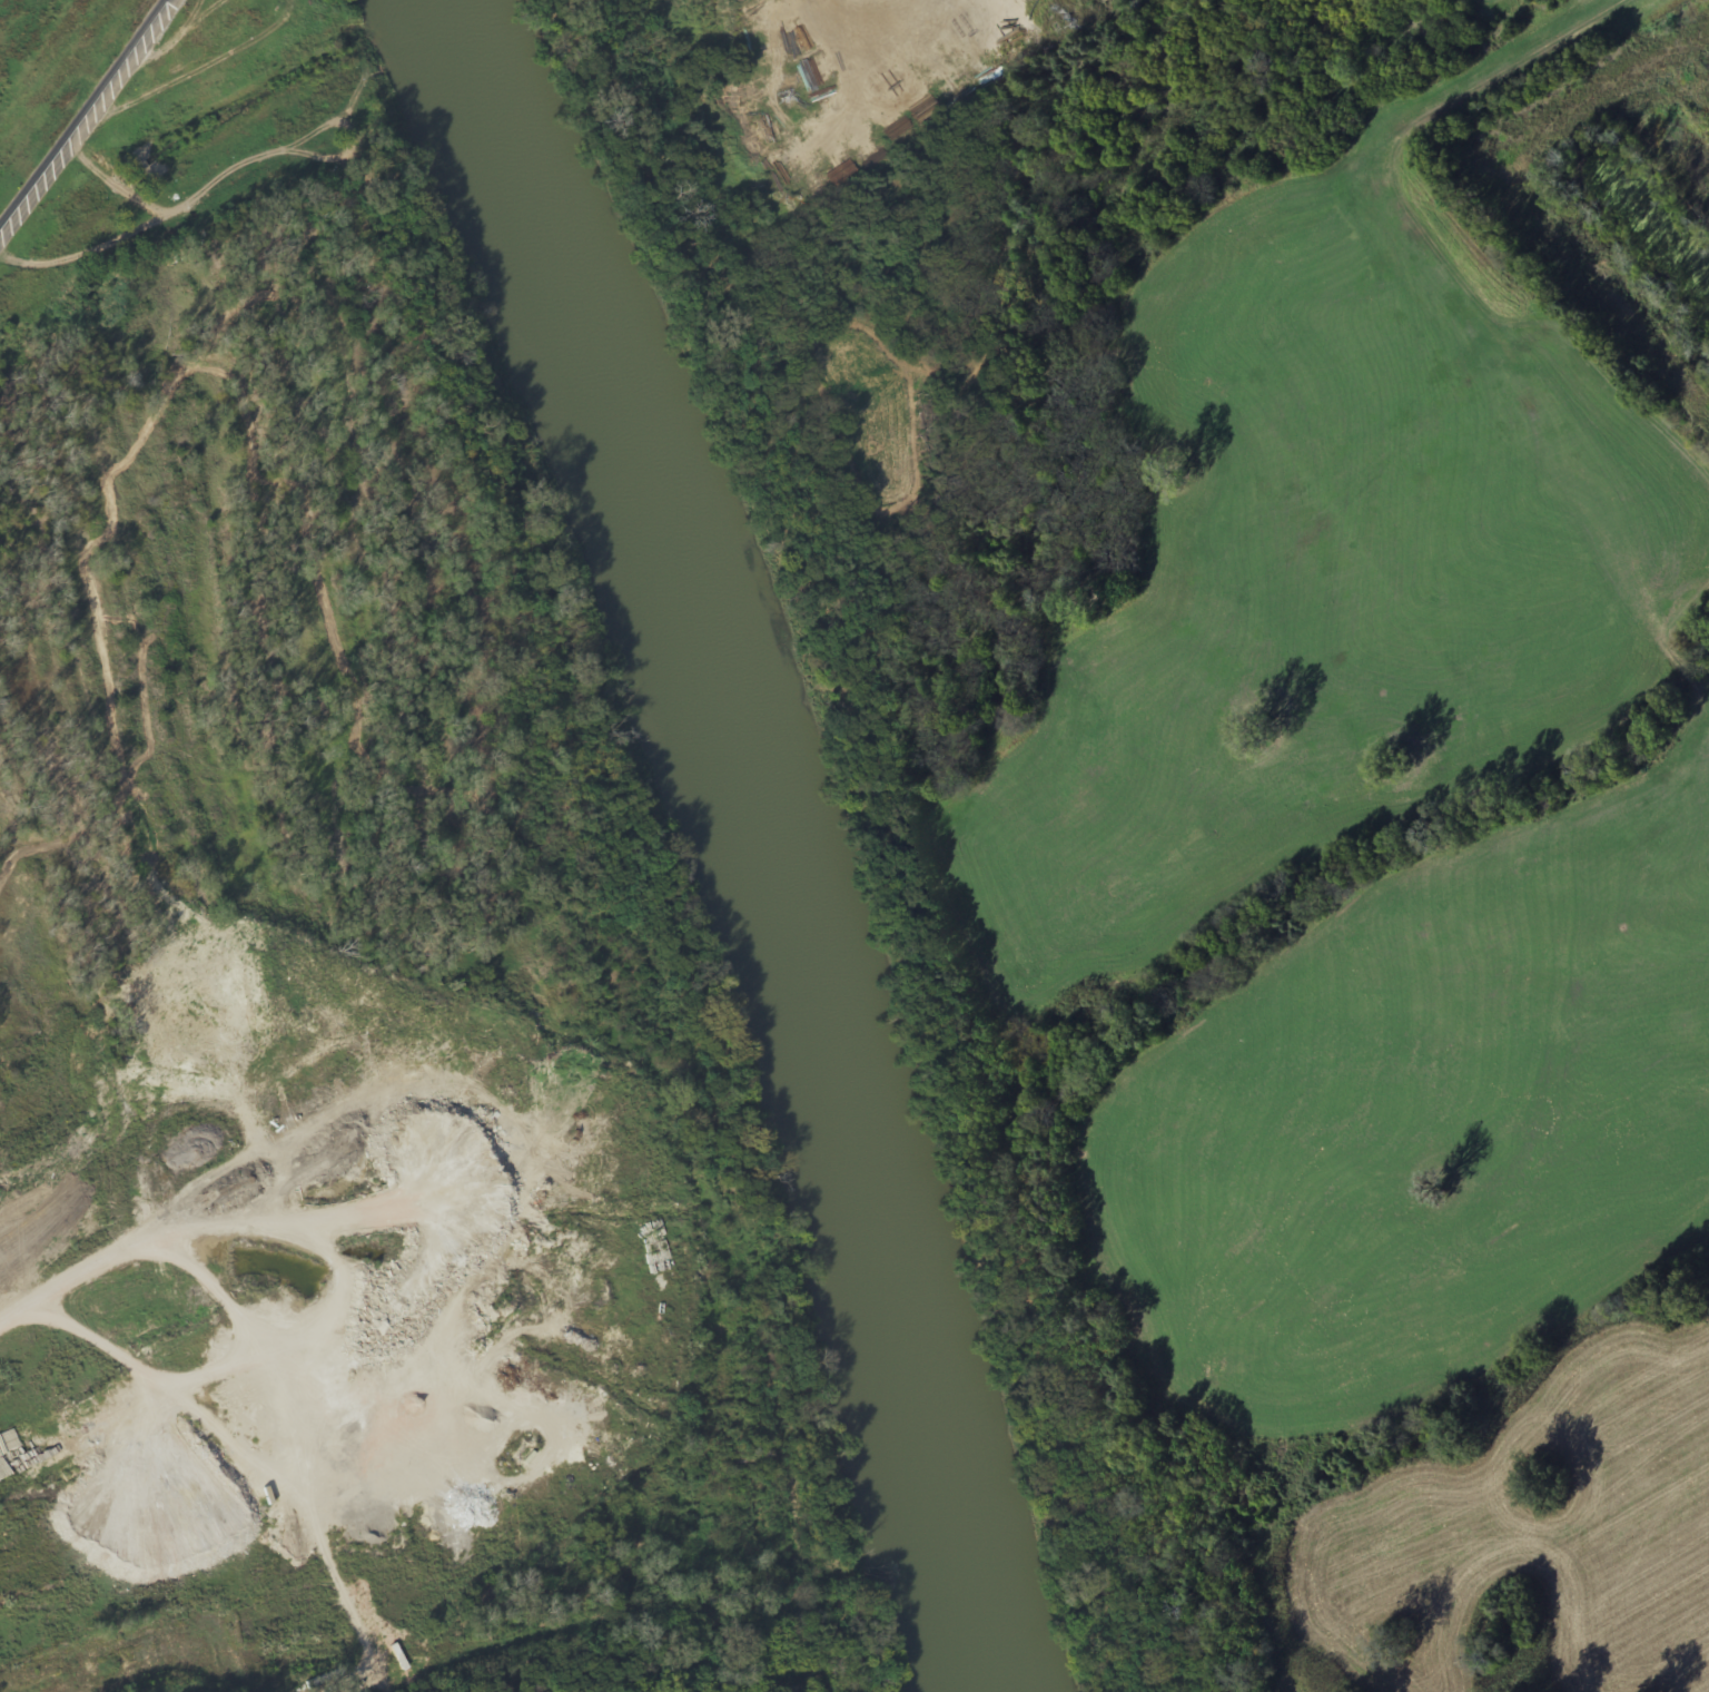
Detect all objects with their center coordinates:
road: (88, 118)
building: (160, 169)
river: (774, 825)

